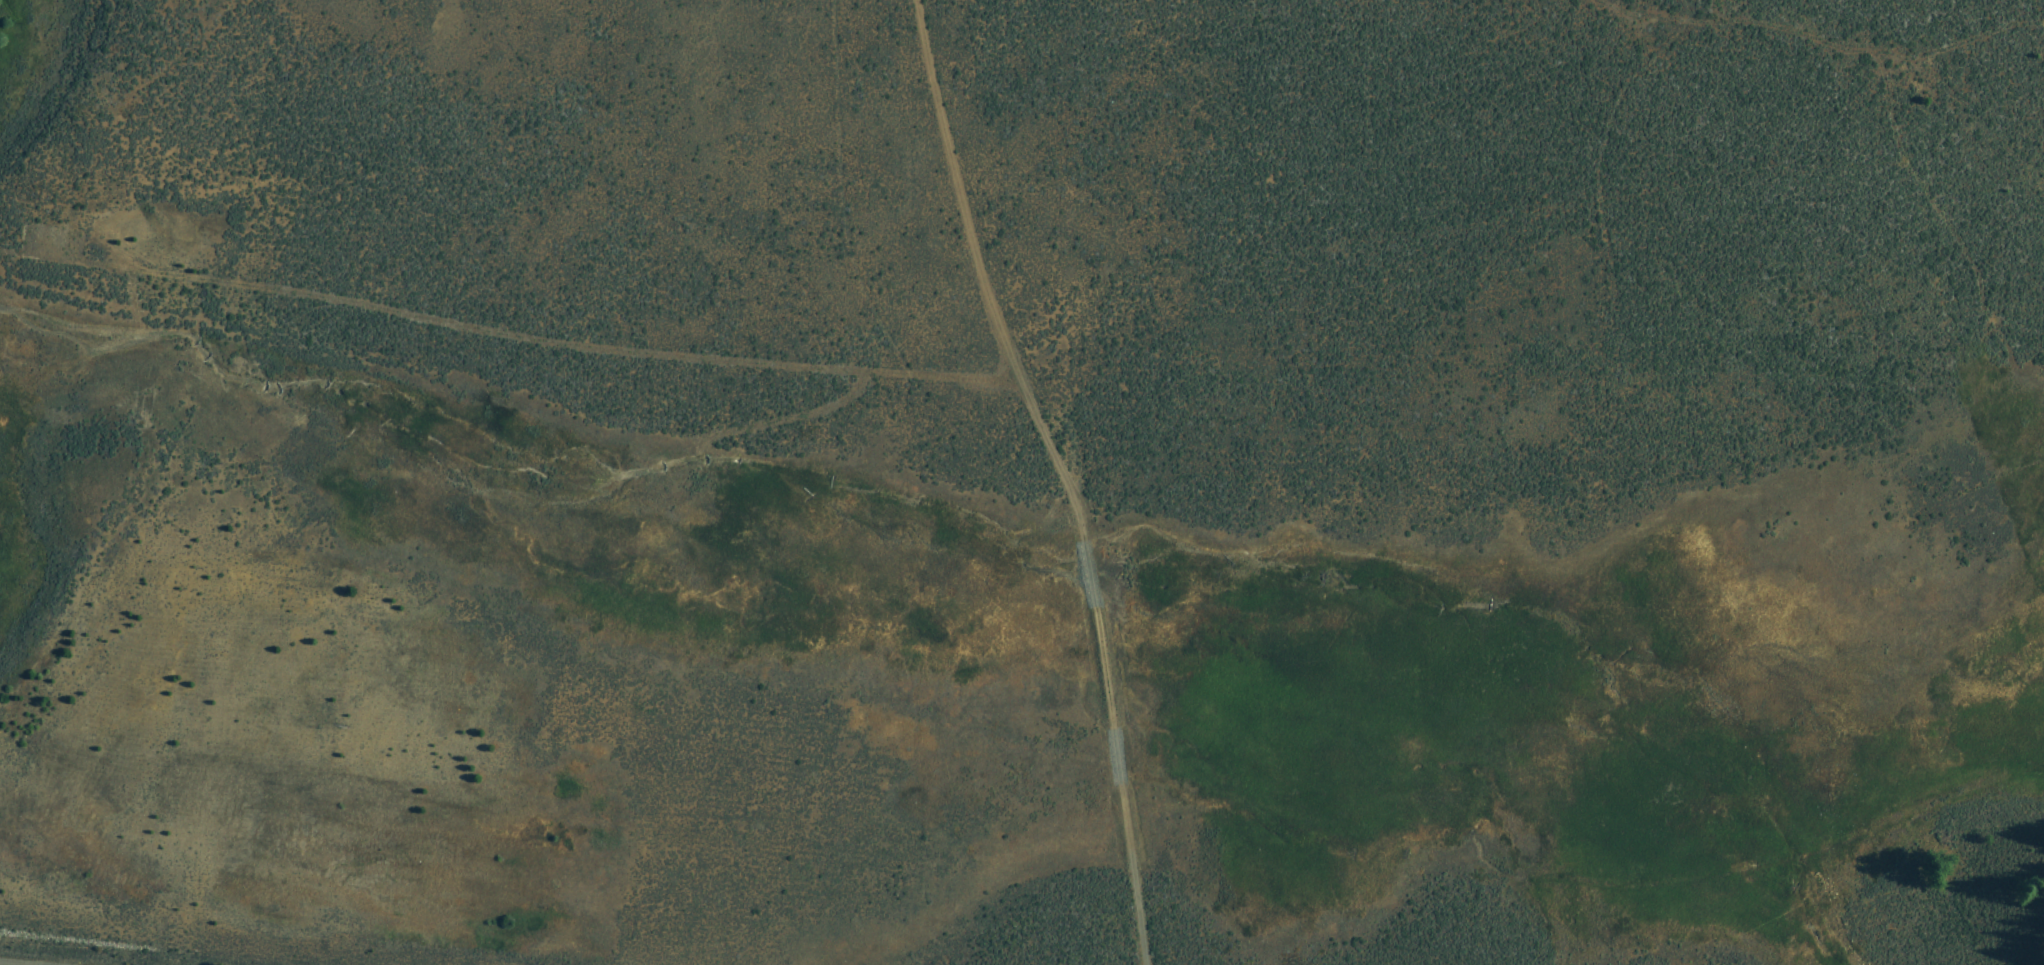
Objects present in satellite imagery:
road: (935, 116)
road: (1087, 588)

